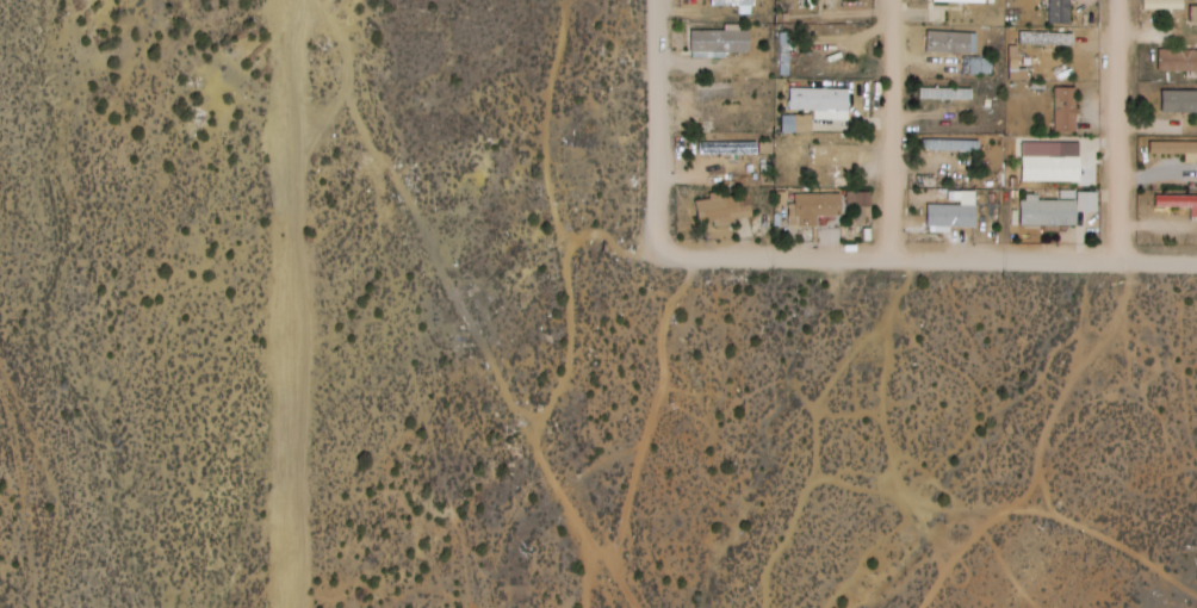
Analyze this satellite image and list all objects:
building: (960, 0)
building: (732, 2)
building: (1060, 12)
building: (1193, 13)
building: (1047, 38)
building: (721, 41)
building: (950, 42)
building: (784, 54)
building: (1177, 60)
building: (980, 66)
building: (719, 91)
building: (947, 93)
building: (1170, 97)
building: (820, 99)
building: (1066, 108)
road: (657, 126)
road: (894, 130)
road: (1120, 130)
building: (950, 144)
building: (720, 147)
building: (1176, 148)
building: (838, 154)
building: (1054, 163)
building: (860, 203)
building: (817, 206)
building: (725, 207)
building: (1050, 210)
building: (953, 215)
road: (926, 260)

